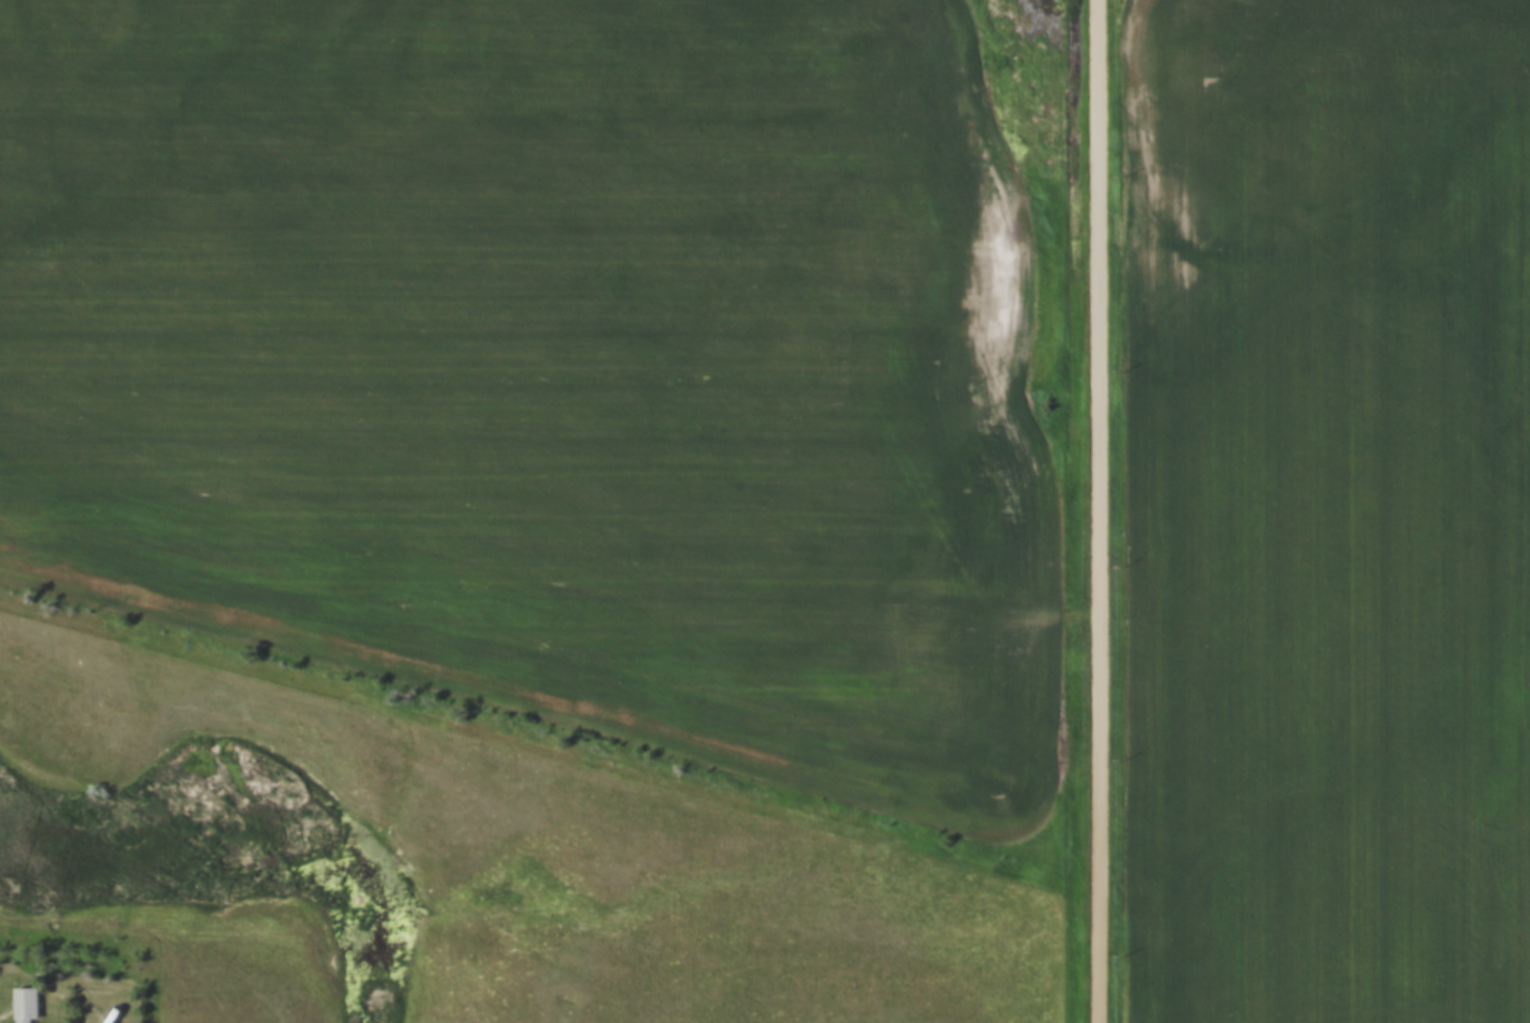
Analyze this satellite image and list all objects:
road: (1101, 511)
building: (22, 997)

